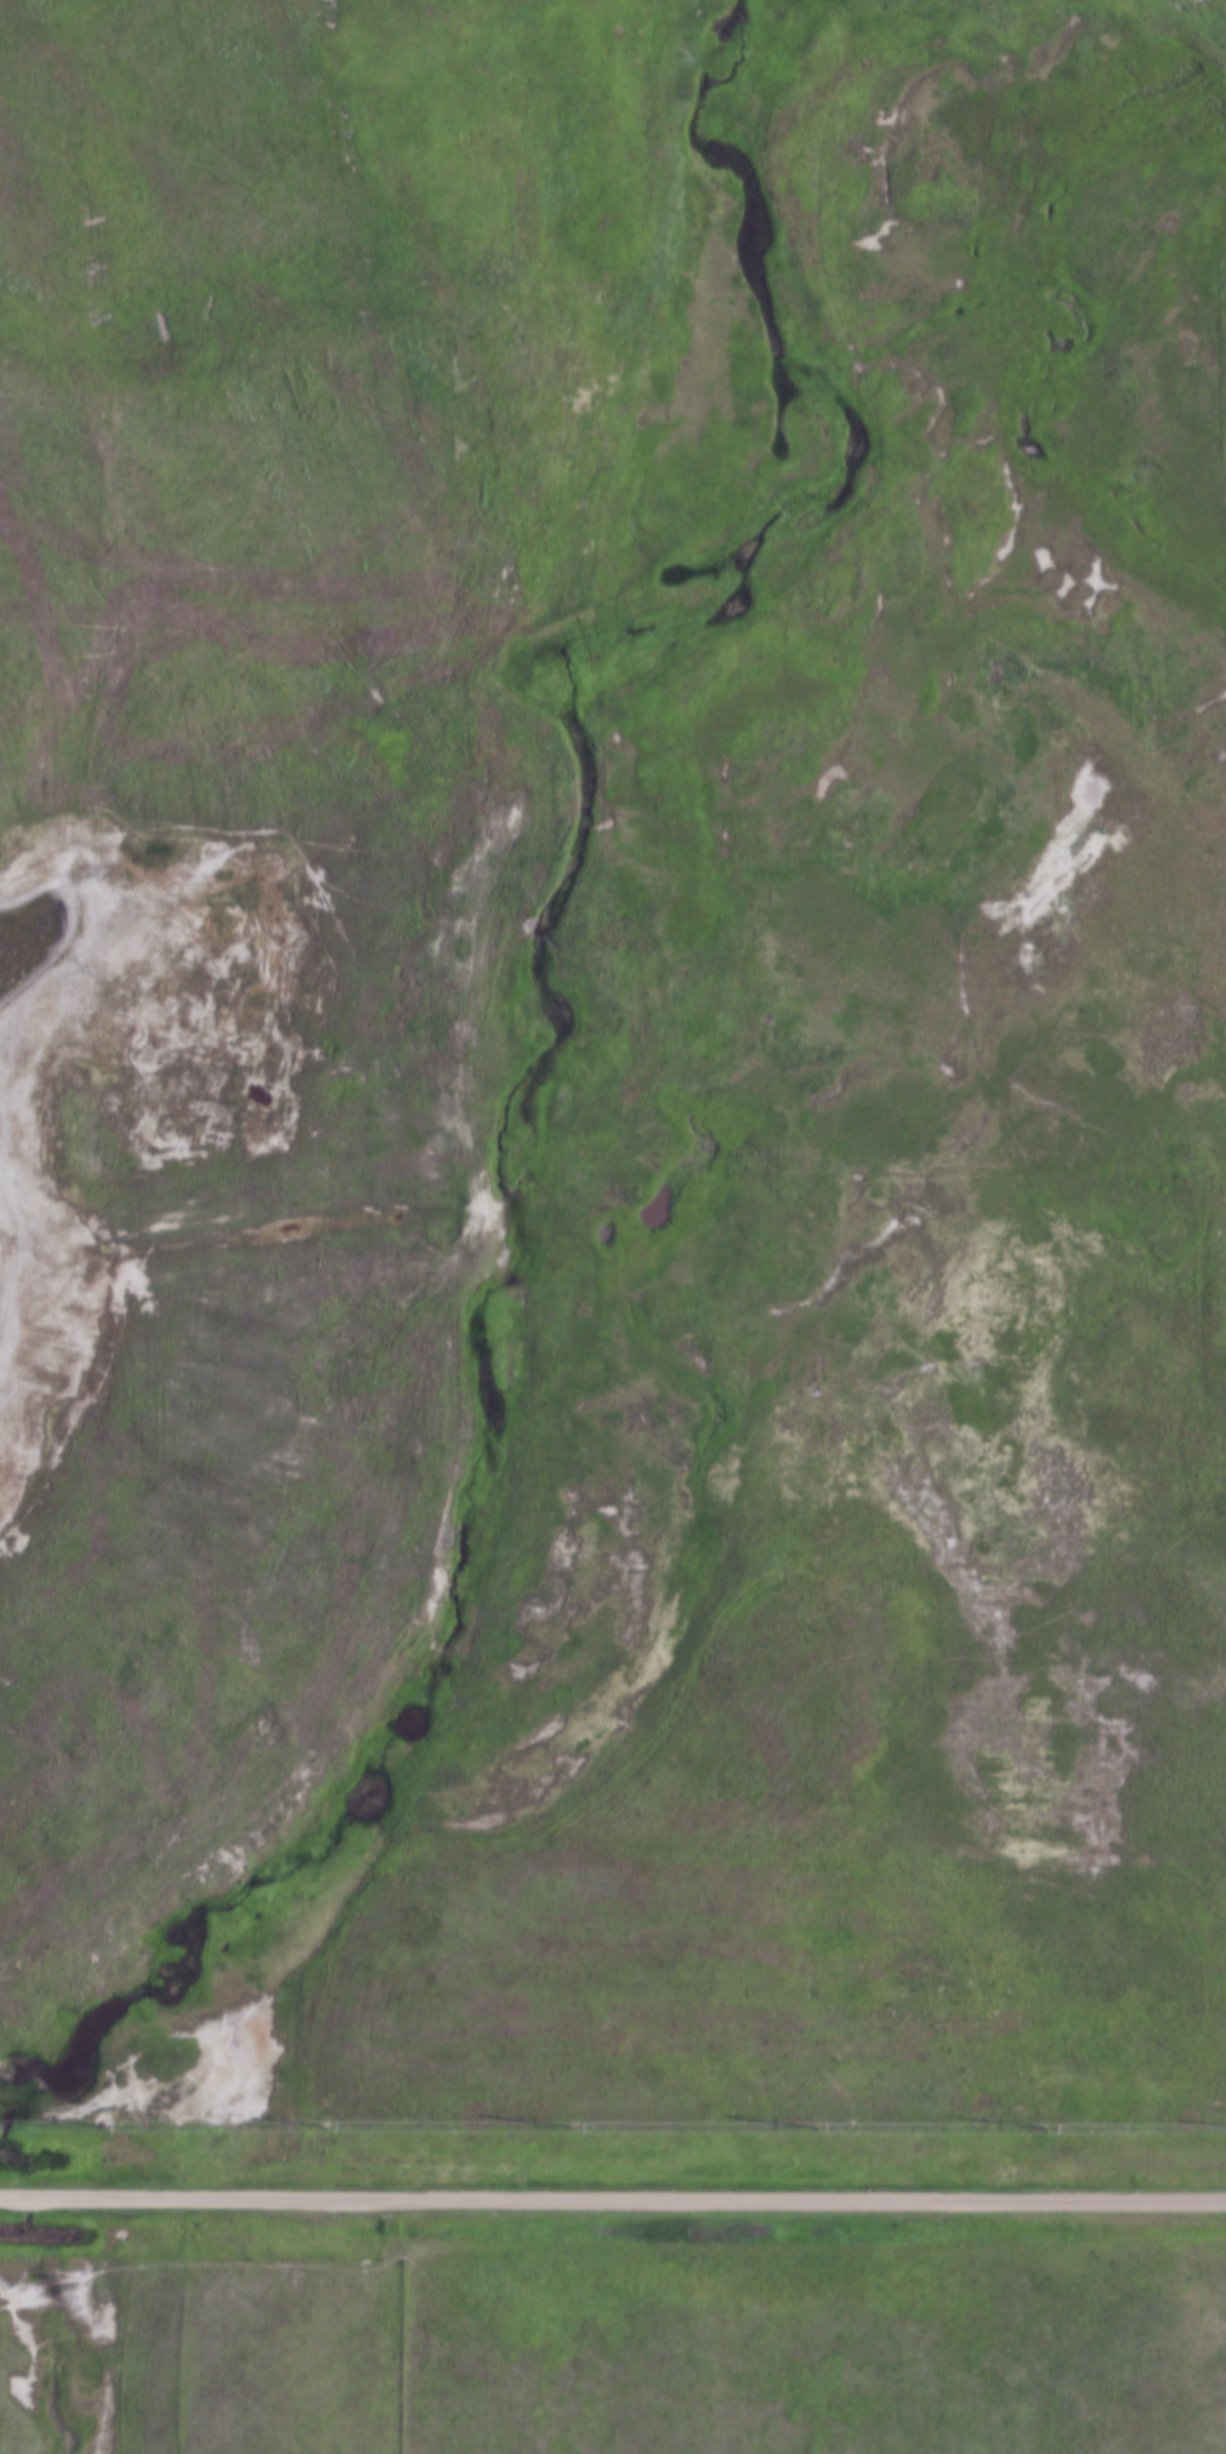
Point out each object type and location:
road: (612, 2199)

